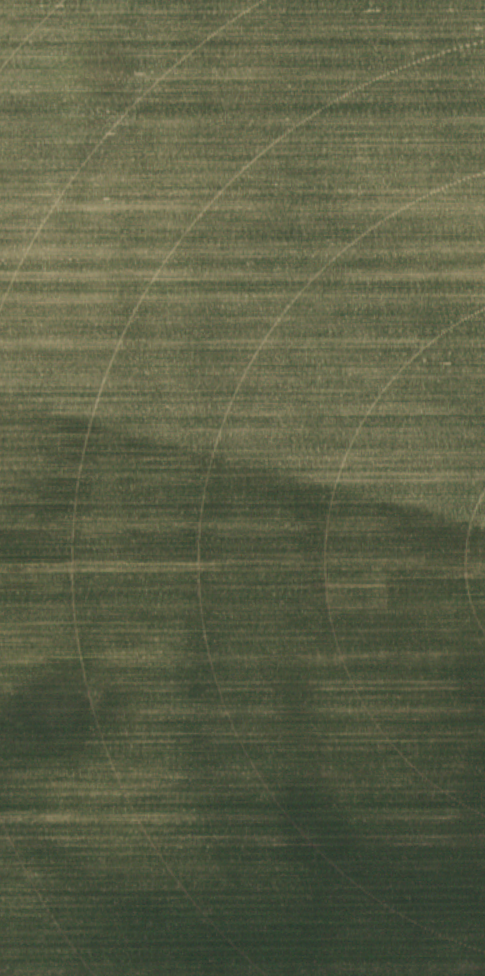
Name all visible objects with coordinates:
crop: (242, 488)

